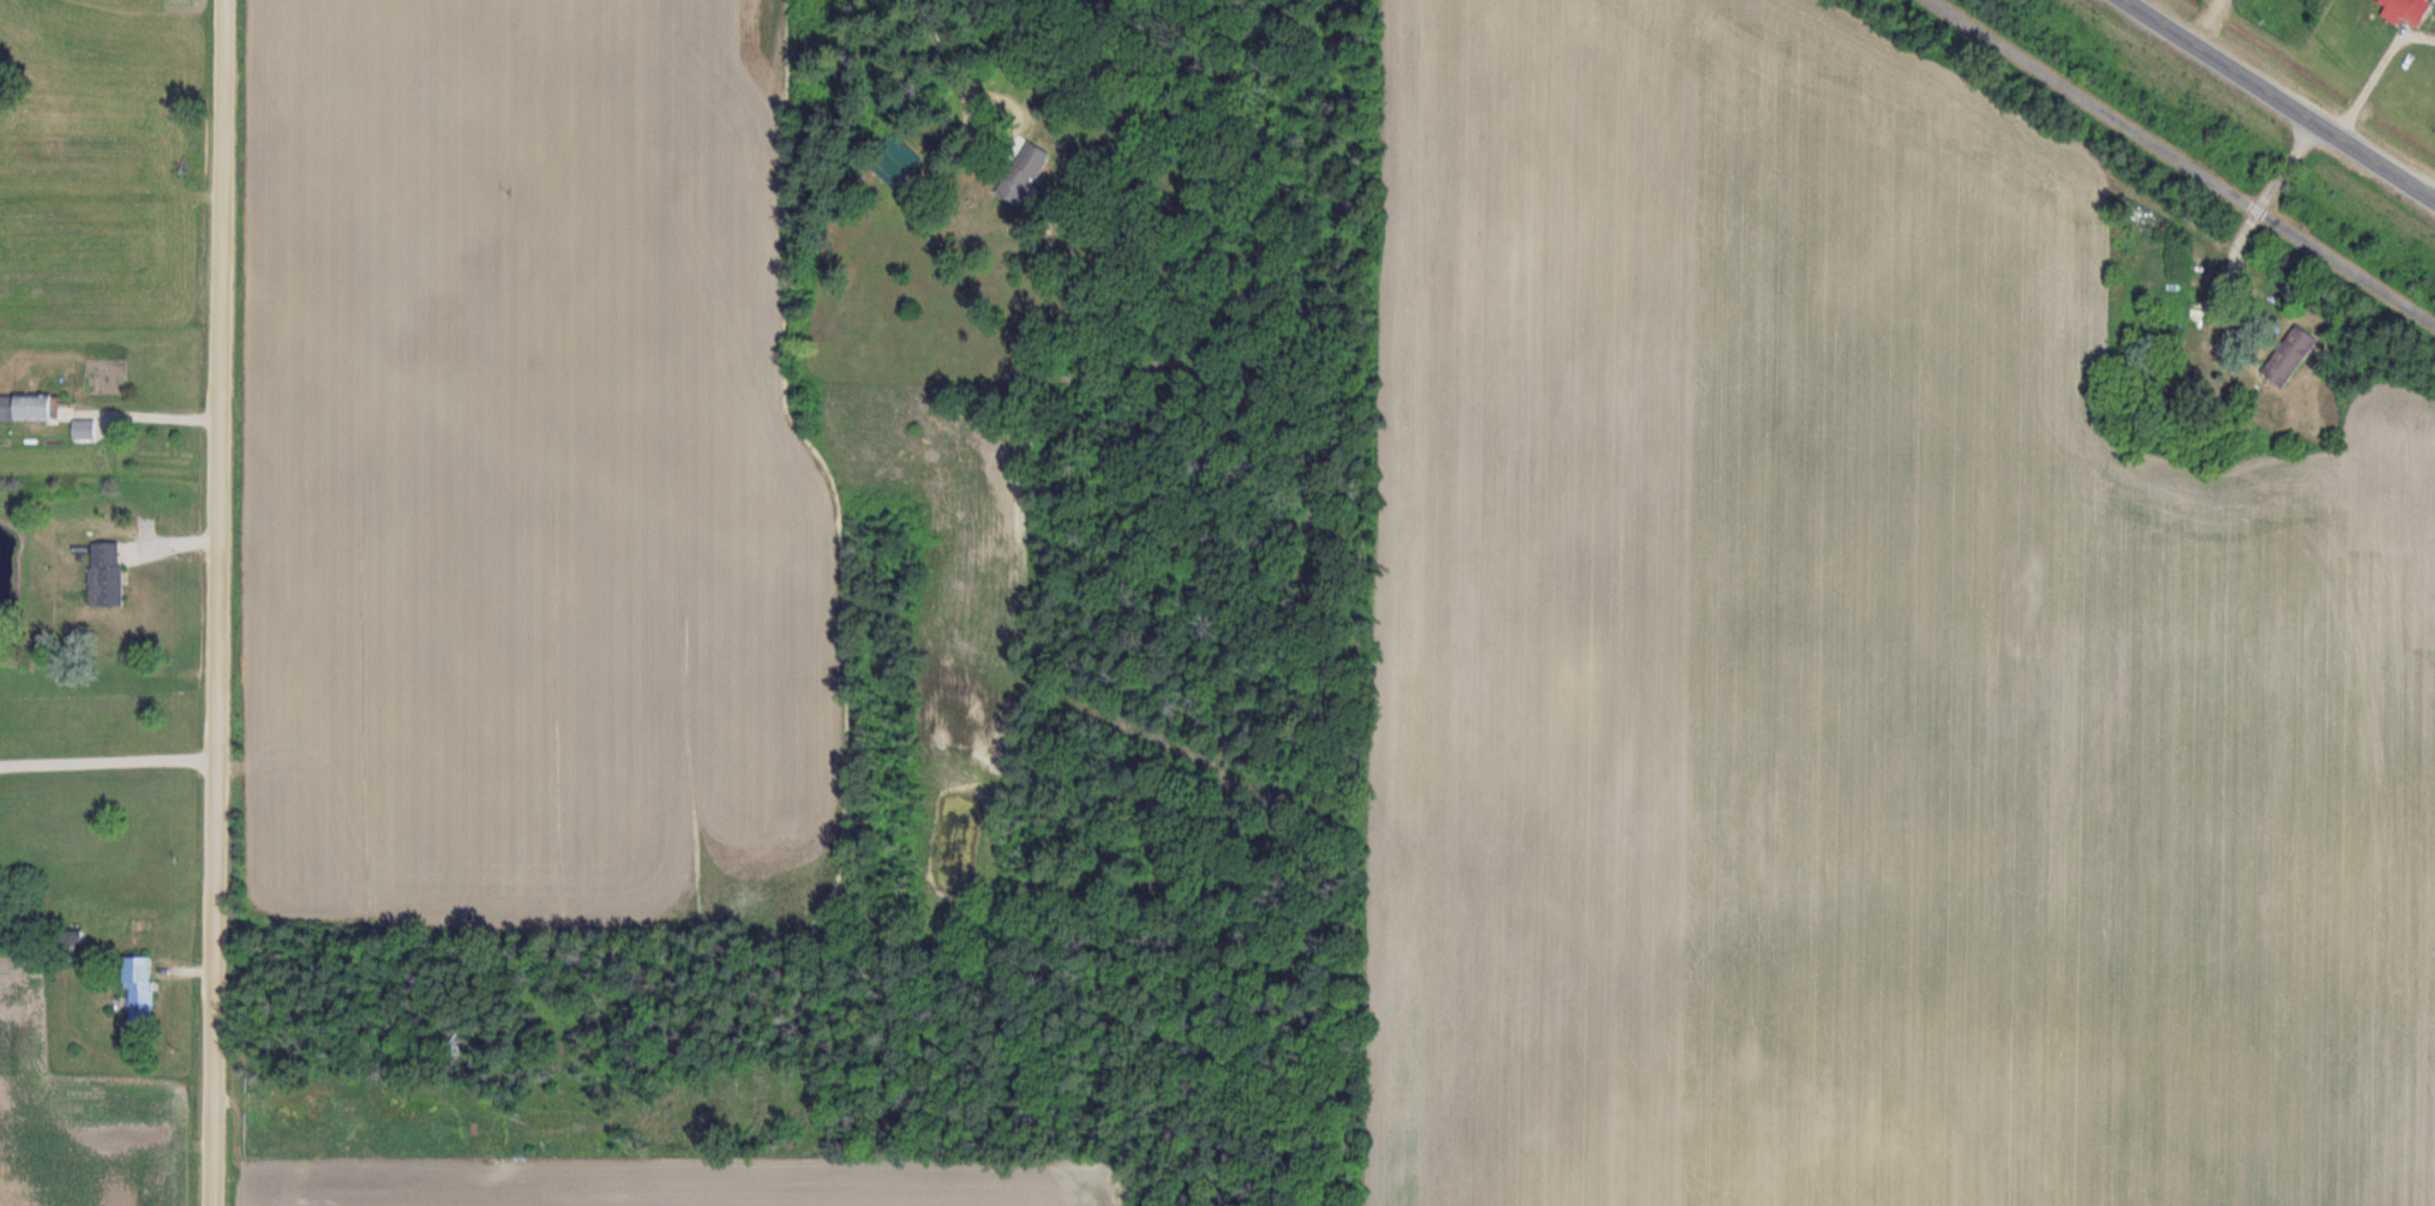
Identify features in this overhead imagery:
building: (2406, 8)
road: (950, 48)
road: (2283, 97)
road: (2182, 162)
building: (1019, 173)
building: (2285, 356)
building: (31, 409)
road: (140, 415)
building: (110, 575)
road: (223, 602)
road: (110, 758)
building: (145, 988)

